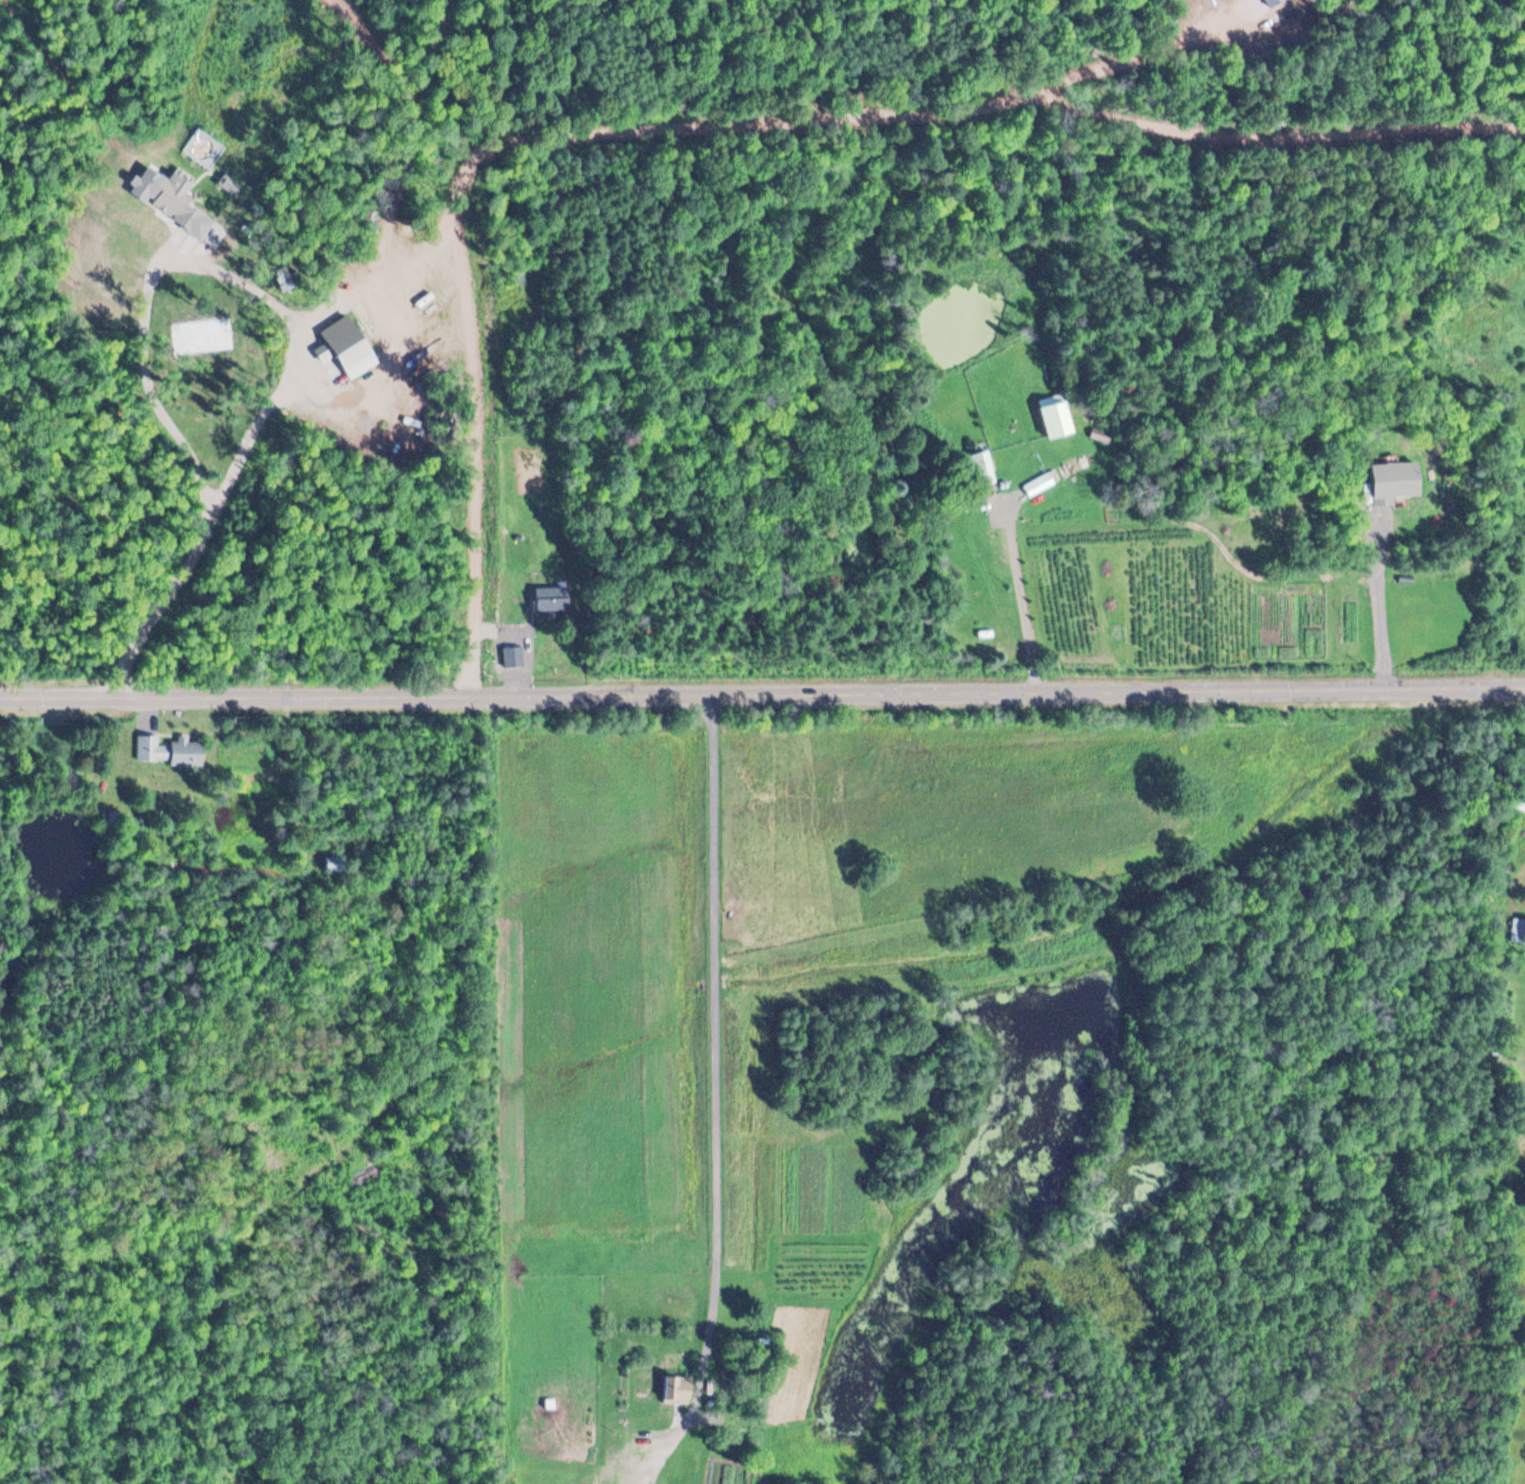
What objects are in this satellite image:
building: (176, 190)
building: (284, 278)
building: (348, 344)
road: (153, 378)
building: (1061, 422)
building: (1101, 434)
building: (981, 466)
building: (1036, 484)
road: (204, 528)
building: (549, 598)
road: (1021, 600)
building: (511, 655)
road: (762, 692)
building: (170, 747)
building: (1519, 930)
road: (713, 1082)
building: (674, 1387)
building: (586, 1483)

